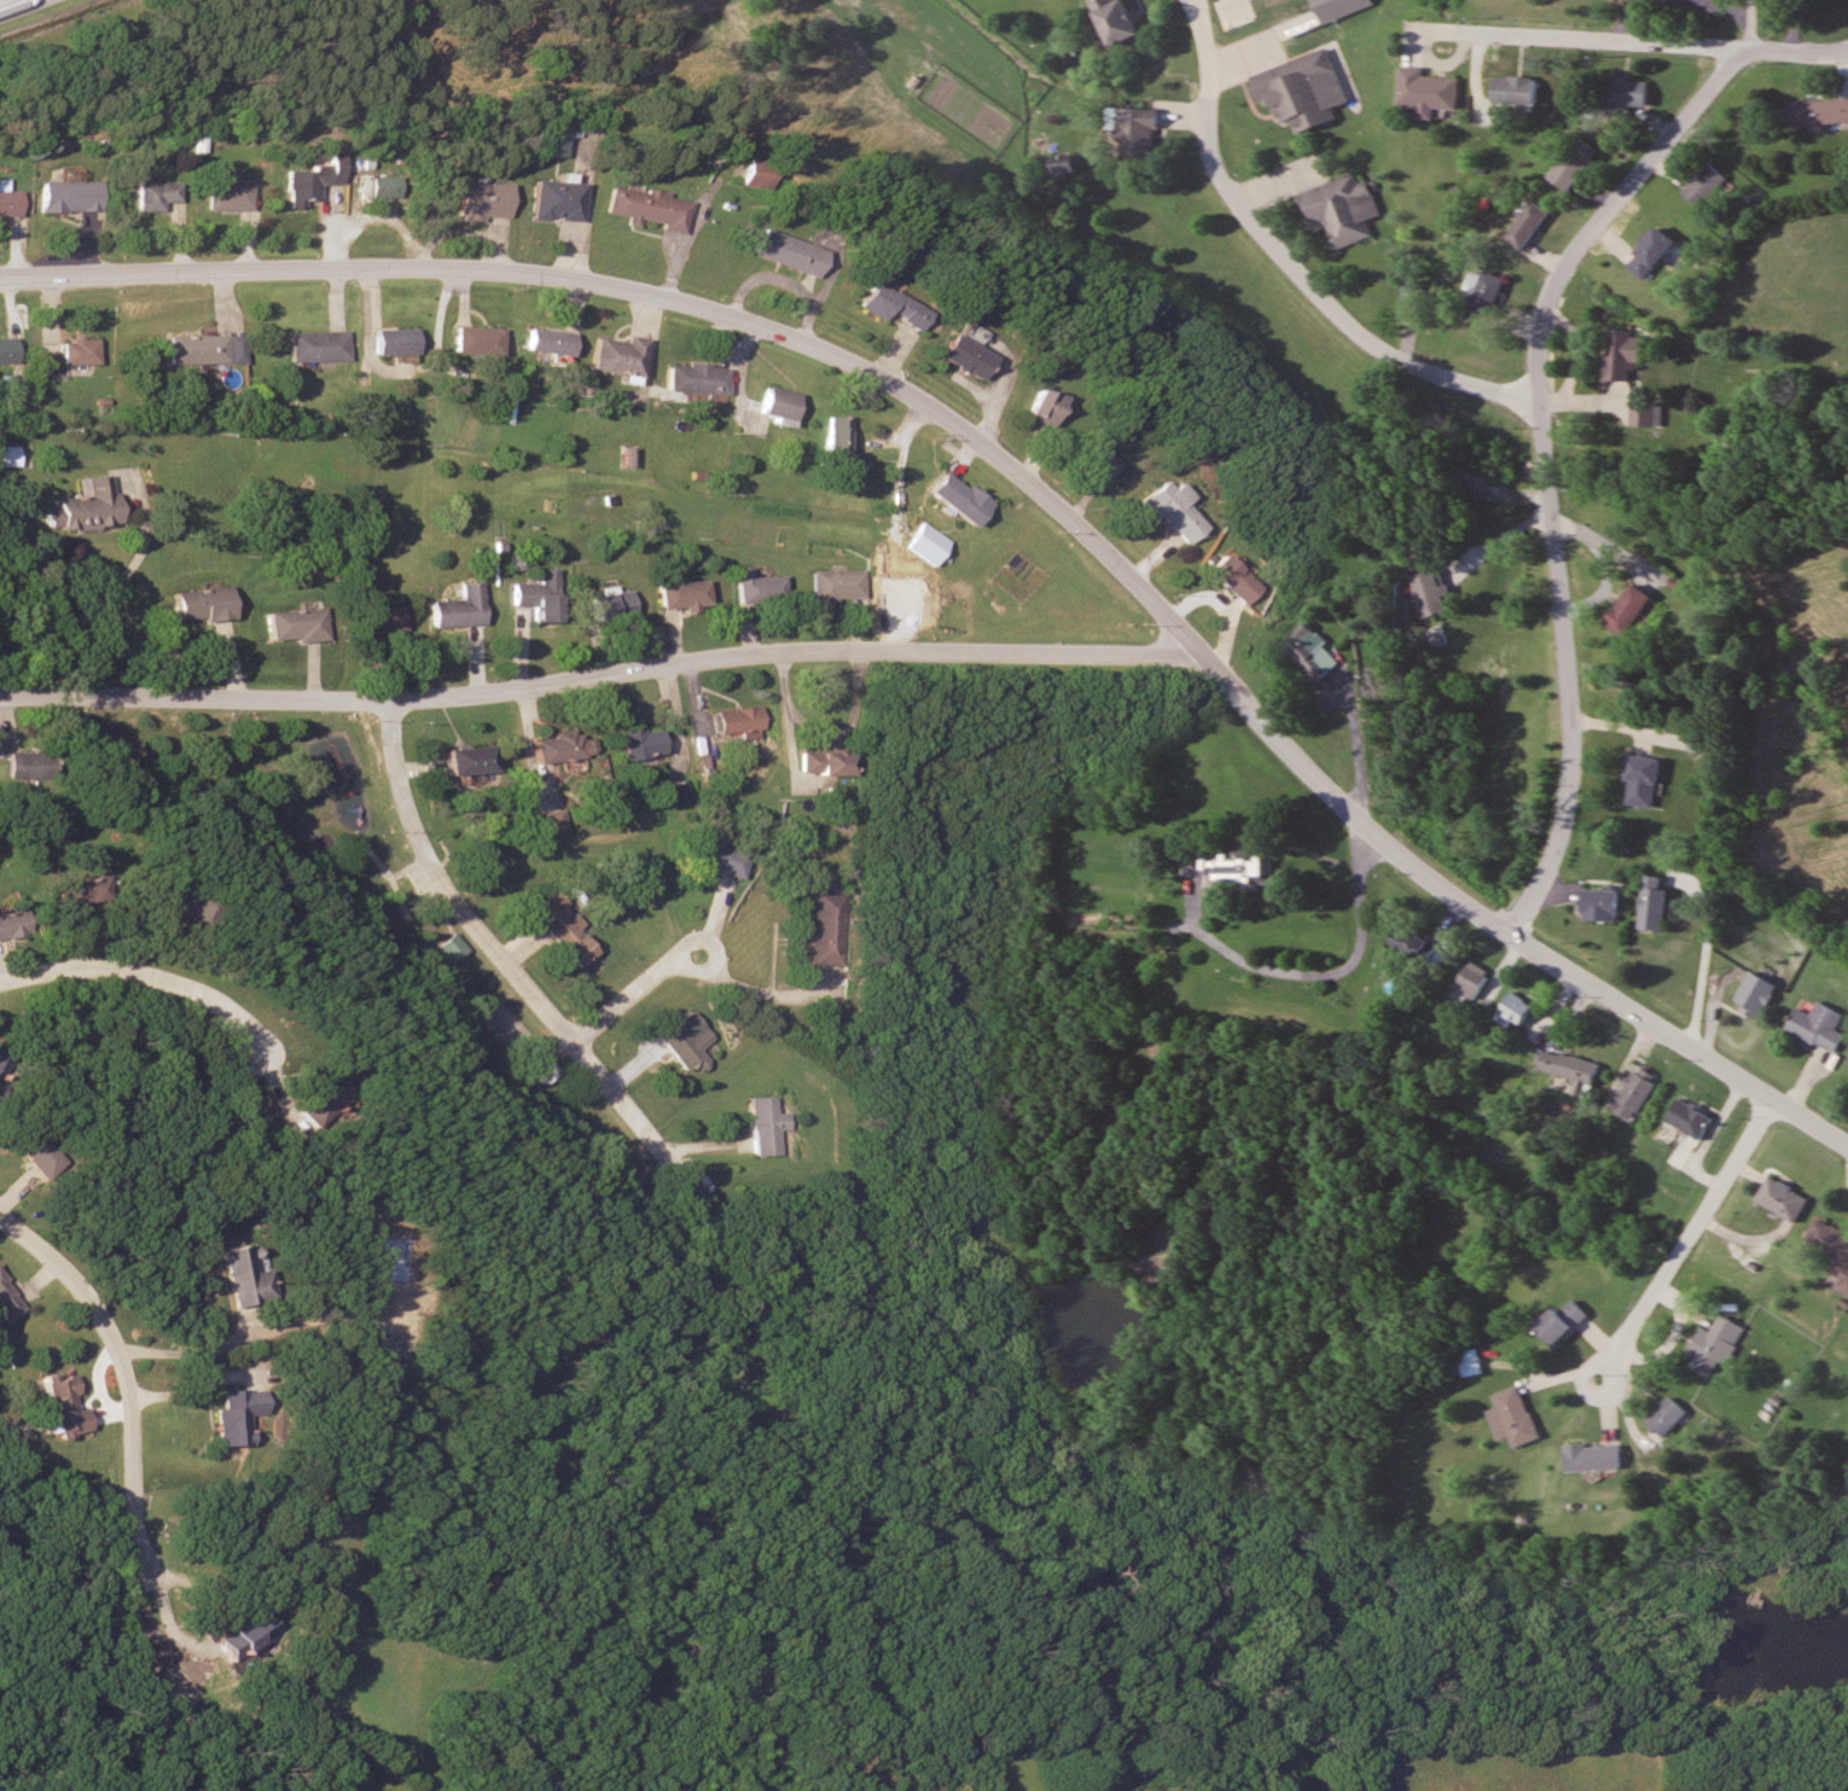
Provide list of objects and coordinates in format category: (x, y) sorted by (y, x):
road: (10, 4)
building: (1114, 19)
road: (1446, 29)
road: (1661, 45)
building: (1298, 89)
building: (1512, 91)
building: (1424, 92)
building: (1626, 94)
building: (1815, 112)
building: (1135, 129)
building: (545, 138)
building: (1062, 163)
building: (1570, 164)
building: (751, 173)
building: (306, 180)
building: (372, 180)
building: (1703, 186)
building: (149, 193)
building: (227, 193)
building: (66, 196)
building: (552, 199)
building: (476, 200)
building: (8, 202)
building: (645, 207)
building: (1339, 209)
building: (1524, 223)
building: (784, 251)
building: (1649, 251)
road: (1286, 262)
building: (1482, 290)
building: (888, 304)
building: (476, 338)
building: (391, 339)
building: (547, 341)
building: (315, 344)
building: (204, 348)
building: (7, 350)
building: (1620, 351)
building: (70, 354)
building: (618, 355)
building: (961, 356)
building: (695, 377)
building: (1038, 407)
building: (836, 434)
building: (8, 455)
building: (1091, 459)
road: (1544, 467)
road: (1019, 479)
building: (954, 498)
building: (83, 506)
building: (1166, 508)
building: (1225, 578)
building: (839, 583)
building: (759, 587)
building: (1428, 592)
building: (540, 594)
building: (684, 594)
building: (202, 604)
building: (612, 605)
building: (459, 607)
building: (1626, 609)
building: (378, 618)
building: (294, 623)
building: (1309, 649)
road: (599, 679)
building: (738, 720)
building: (640, 742)
building: (562, 745)
building: (467, 760)
building: (820, 762)
building: (28, 764)
building: (1640, 779)
building: (679, 791)
building: (720, 859)
building: (1236, 865)
building: (74, 891)
building: (164, 902)
building: (1652, 902)
building: (1598, 903)
building: (10, 924)
building: (827, 928)
building: (558, 929)
building: (1411, 944)
building: (448, 949)
road: (492, 952)
road: (708, 969)
road: (147, 979)
building: (1470, 979)
building: (1753, 994)
road: (614, 1004)
building: (1512, 1011)
building: (1818, 1025)
building: (682, 1041)
building: (2, 1064)
building: (1565, 1065)
building: (1632, 1092)
building: (320, 1103)
building: (1686, 1117)
building: (763, 1124)
building: (36, 1155)
building: (1779, 1198)
road: (1687, 1237)
building: (1829, 1245)
building: (243, 1278)
building: (10, 1303)
building: (1559, 1321)
building: (1714, 1344)
building: (1470, 1361)
road: (120, 1371)
building: (57, 1406)
building: (233, 1414)
building: (1666, 1415)
building: (1511, 1417)
building: (1592, 1456)
building: (246, 1630)

